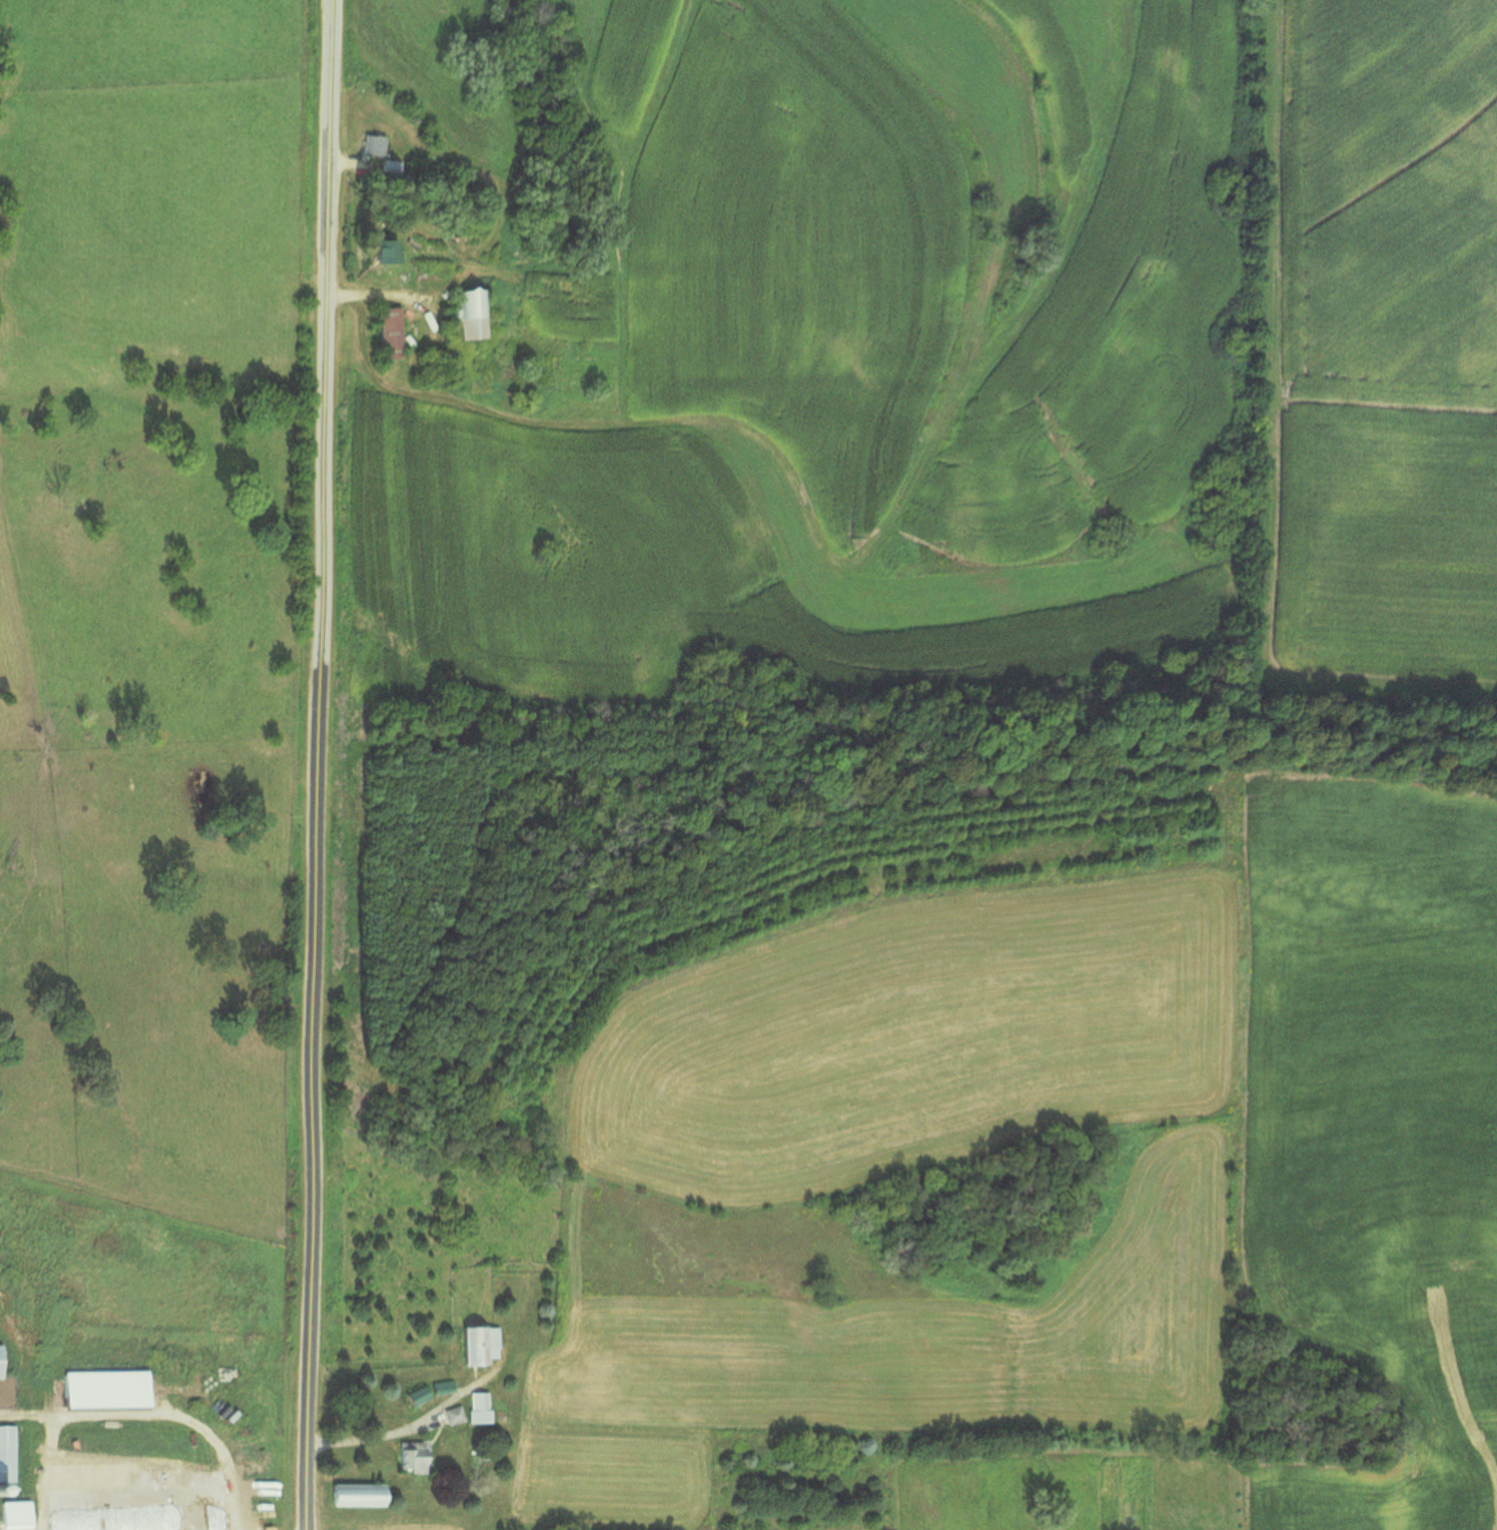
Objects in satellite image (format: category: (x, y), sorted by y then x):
building: (372, 144)
building: (382, 250)
road: (373, 293)
building: (469, 313)
building: (388, 332)
road: (314, 764)
building: (478, 1343)
building: (442, 1386)
building: (416, 1395)
building: (478, 1406)
building: (452, 1415)
building: (6, 1452)
building: (410, 1455)
building: (354, 1493)

